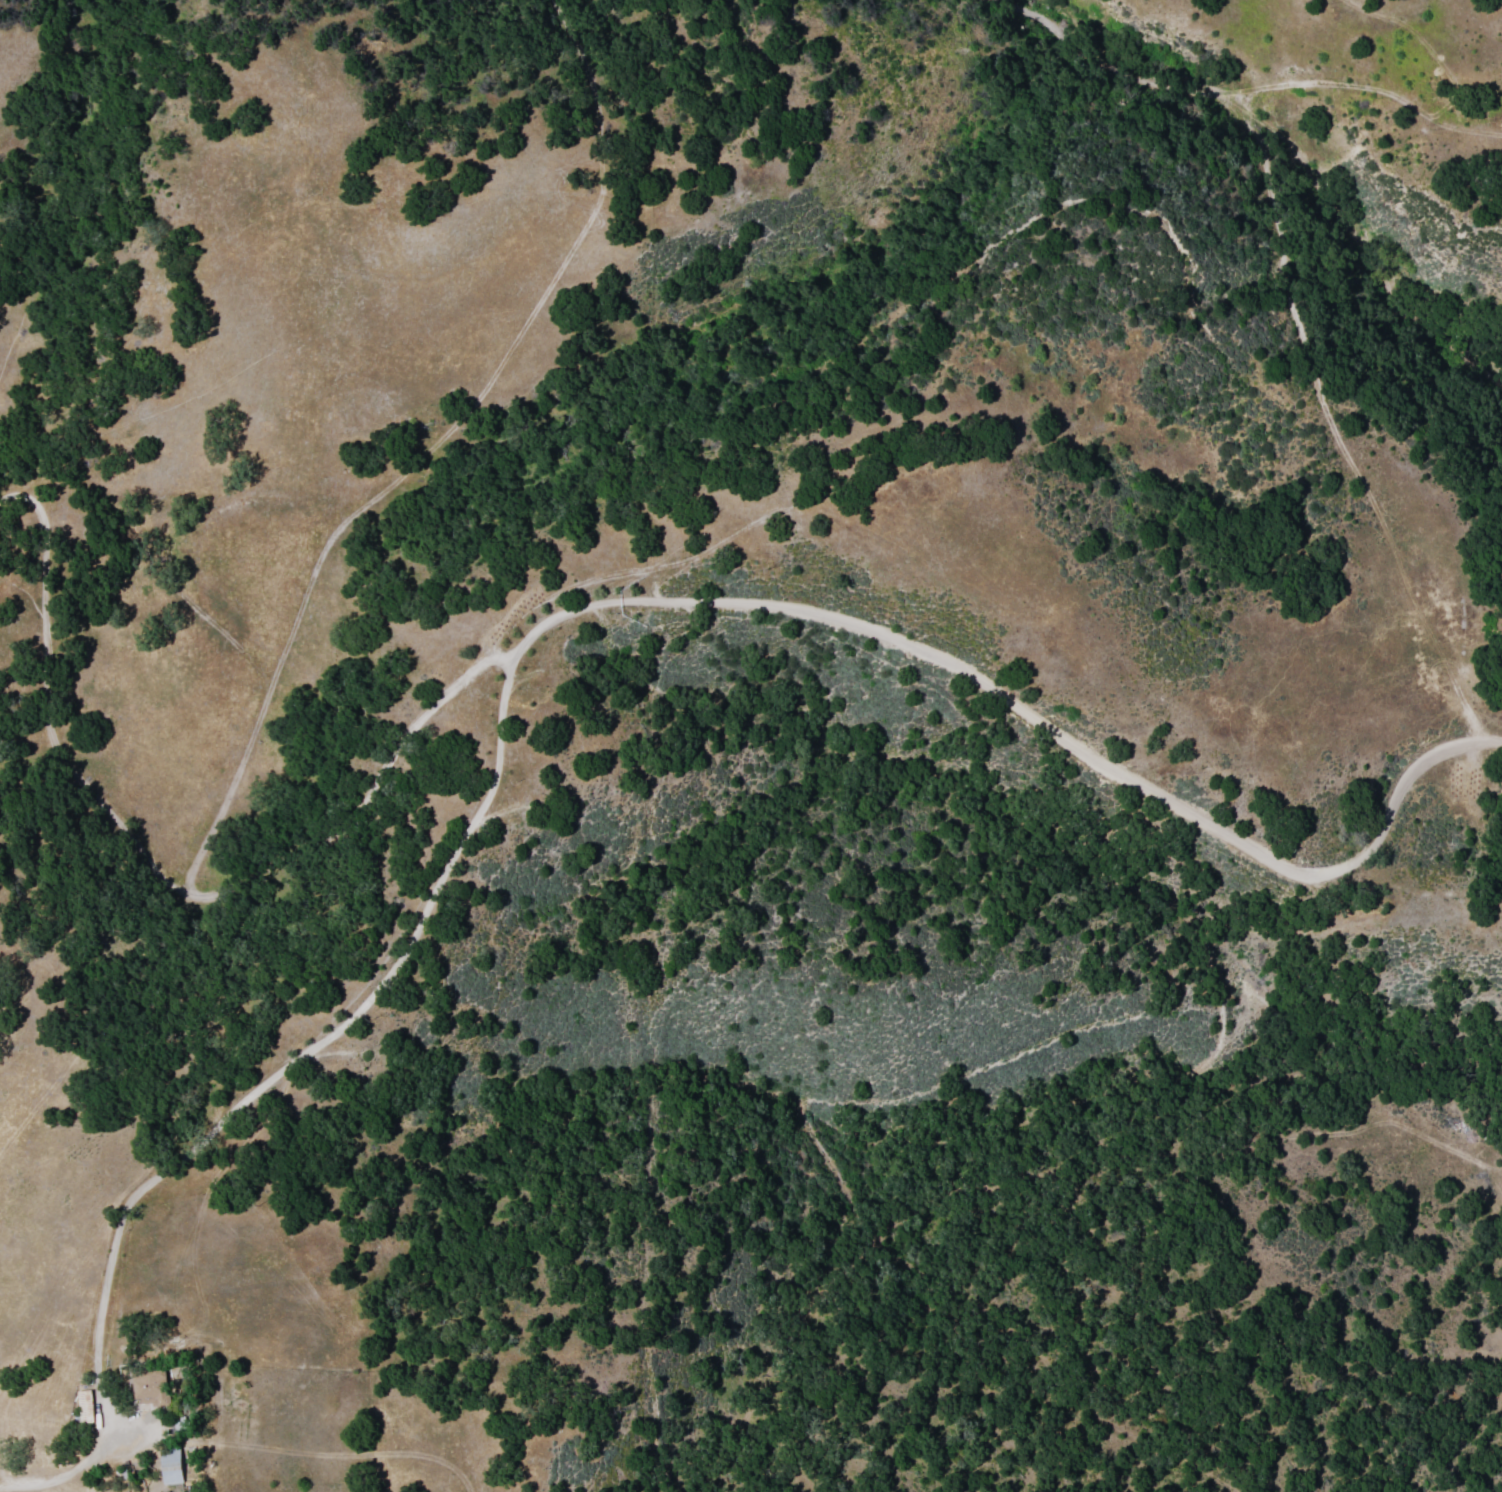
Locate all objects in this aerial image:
road: (613, 603)
road: (1213, 1041)
building: (151, 1387)
building: (173, 1465)

